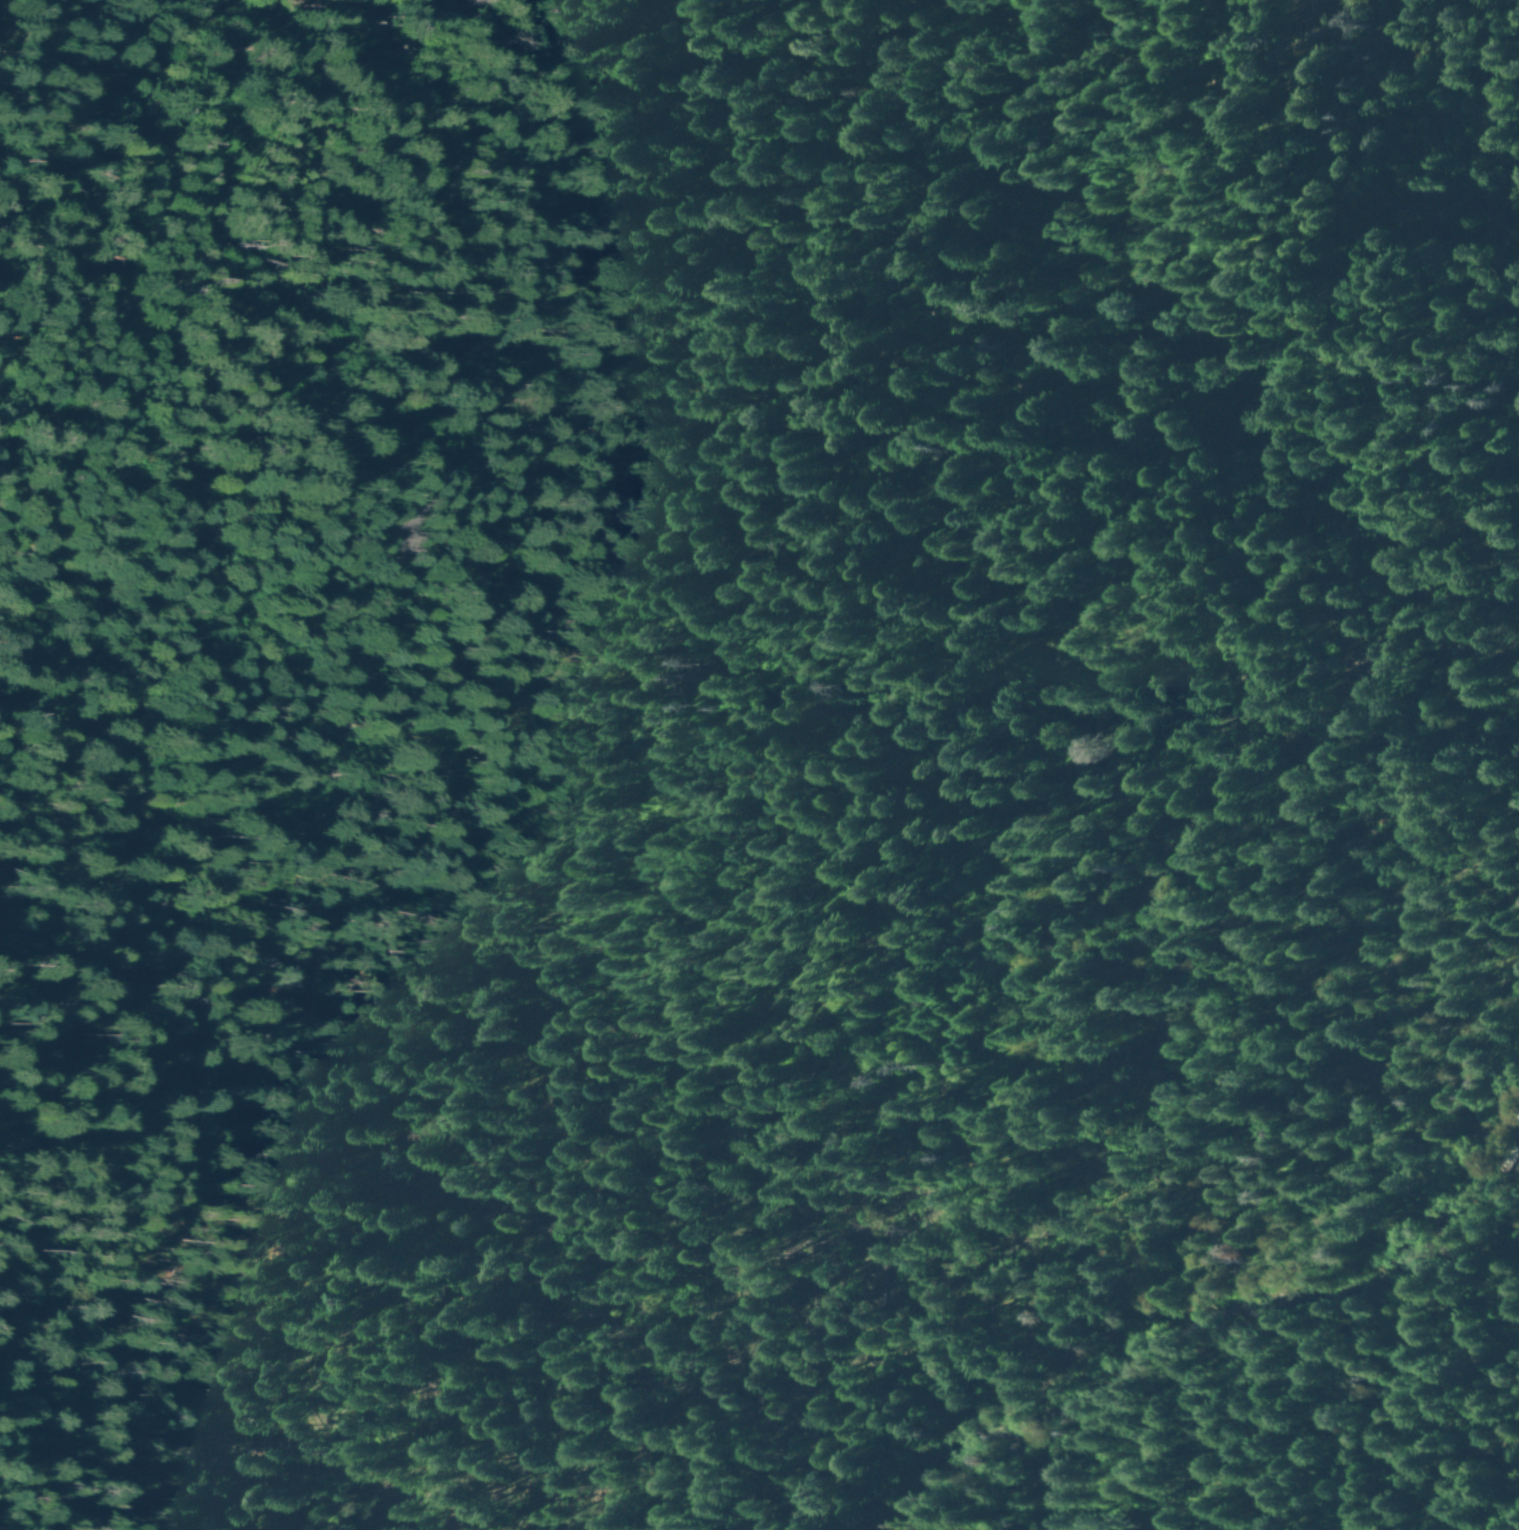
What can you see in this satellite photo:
building: (1516, 1115)
road: (1402, 1469)

